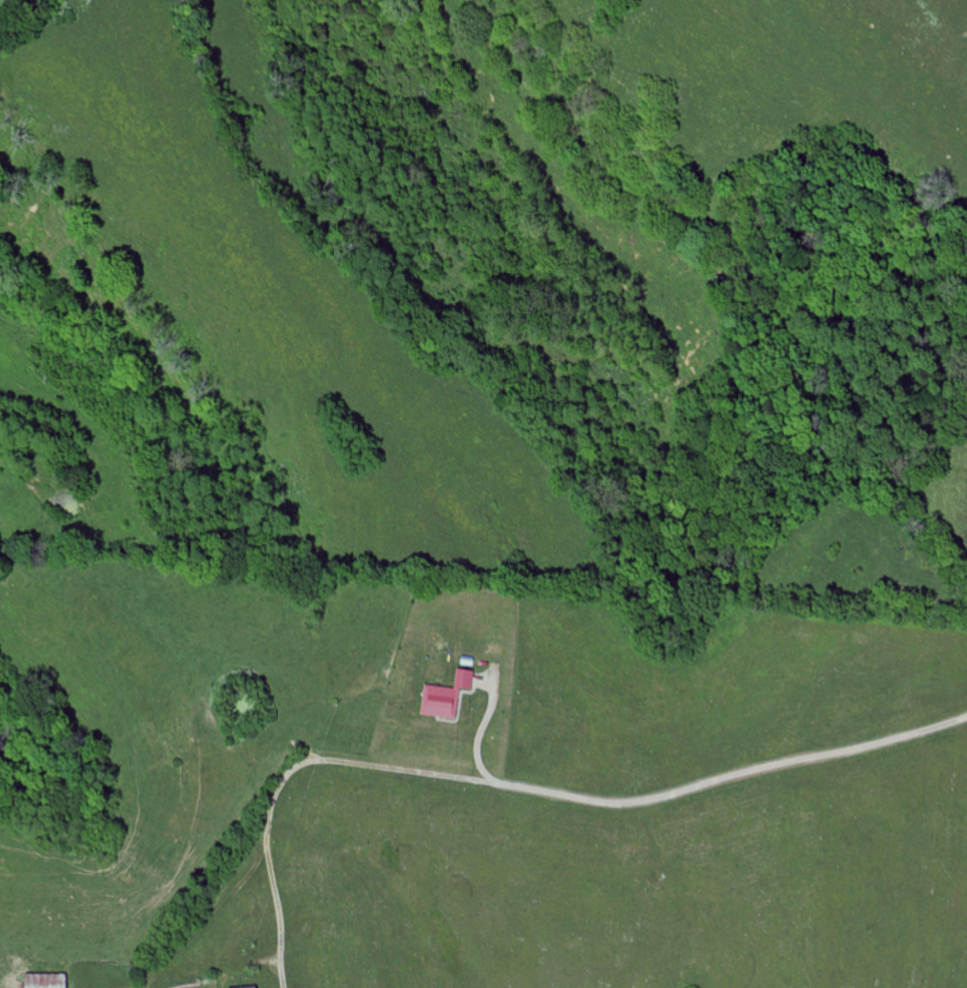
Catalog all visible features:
building: (466, 679)
building: (441, 701)
road: (477, 737)
road: (501, 789)
road: (277, 898)
building: (49, 981)

